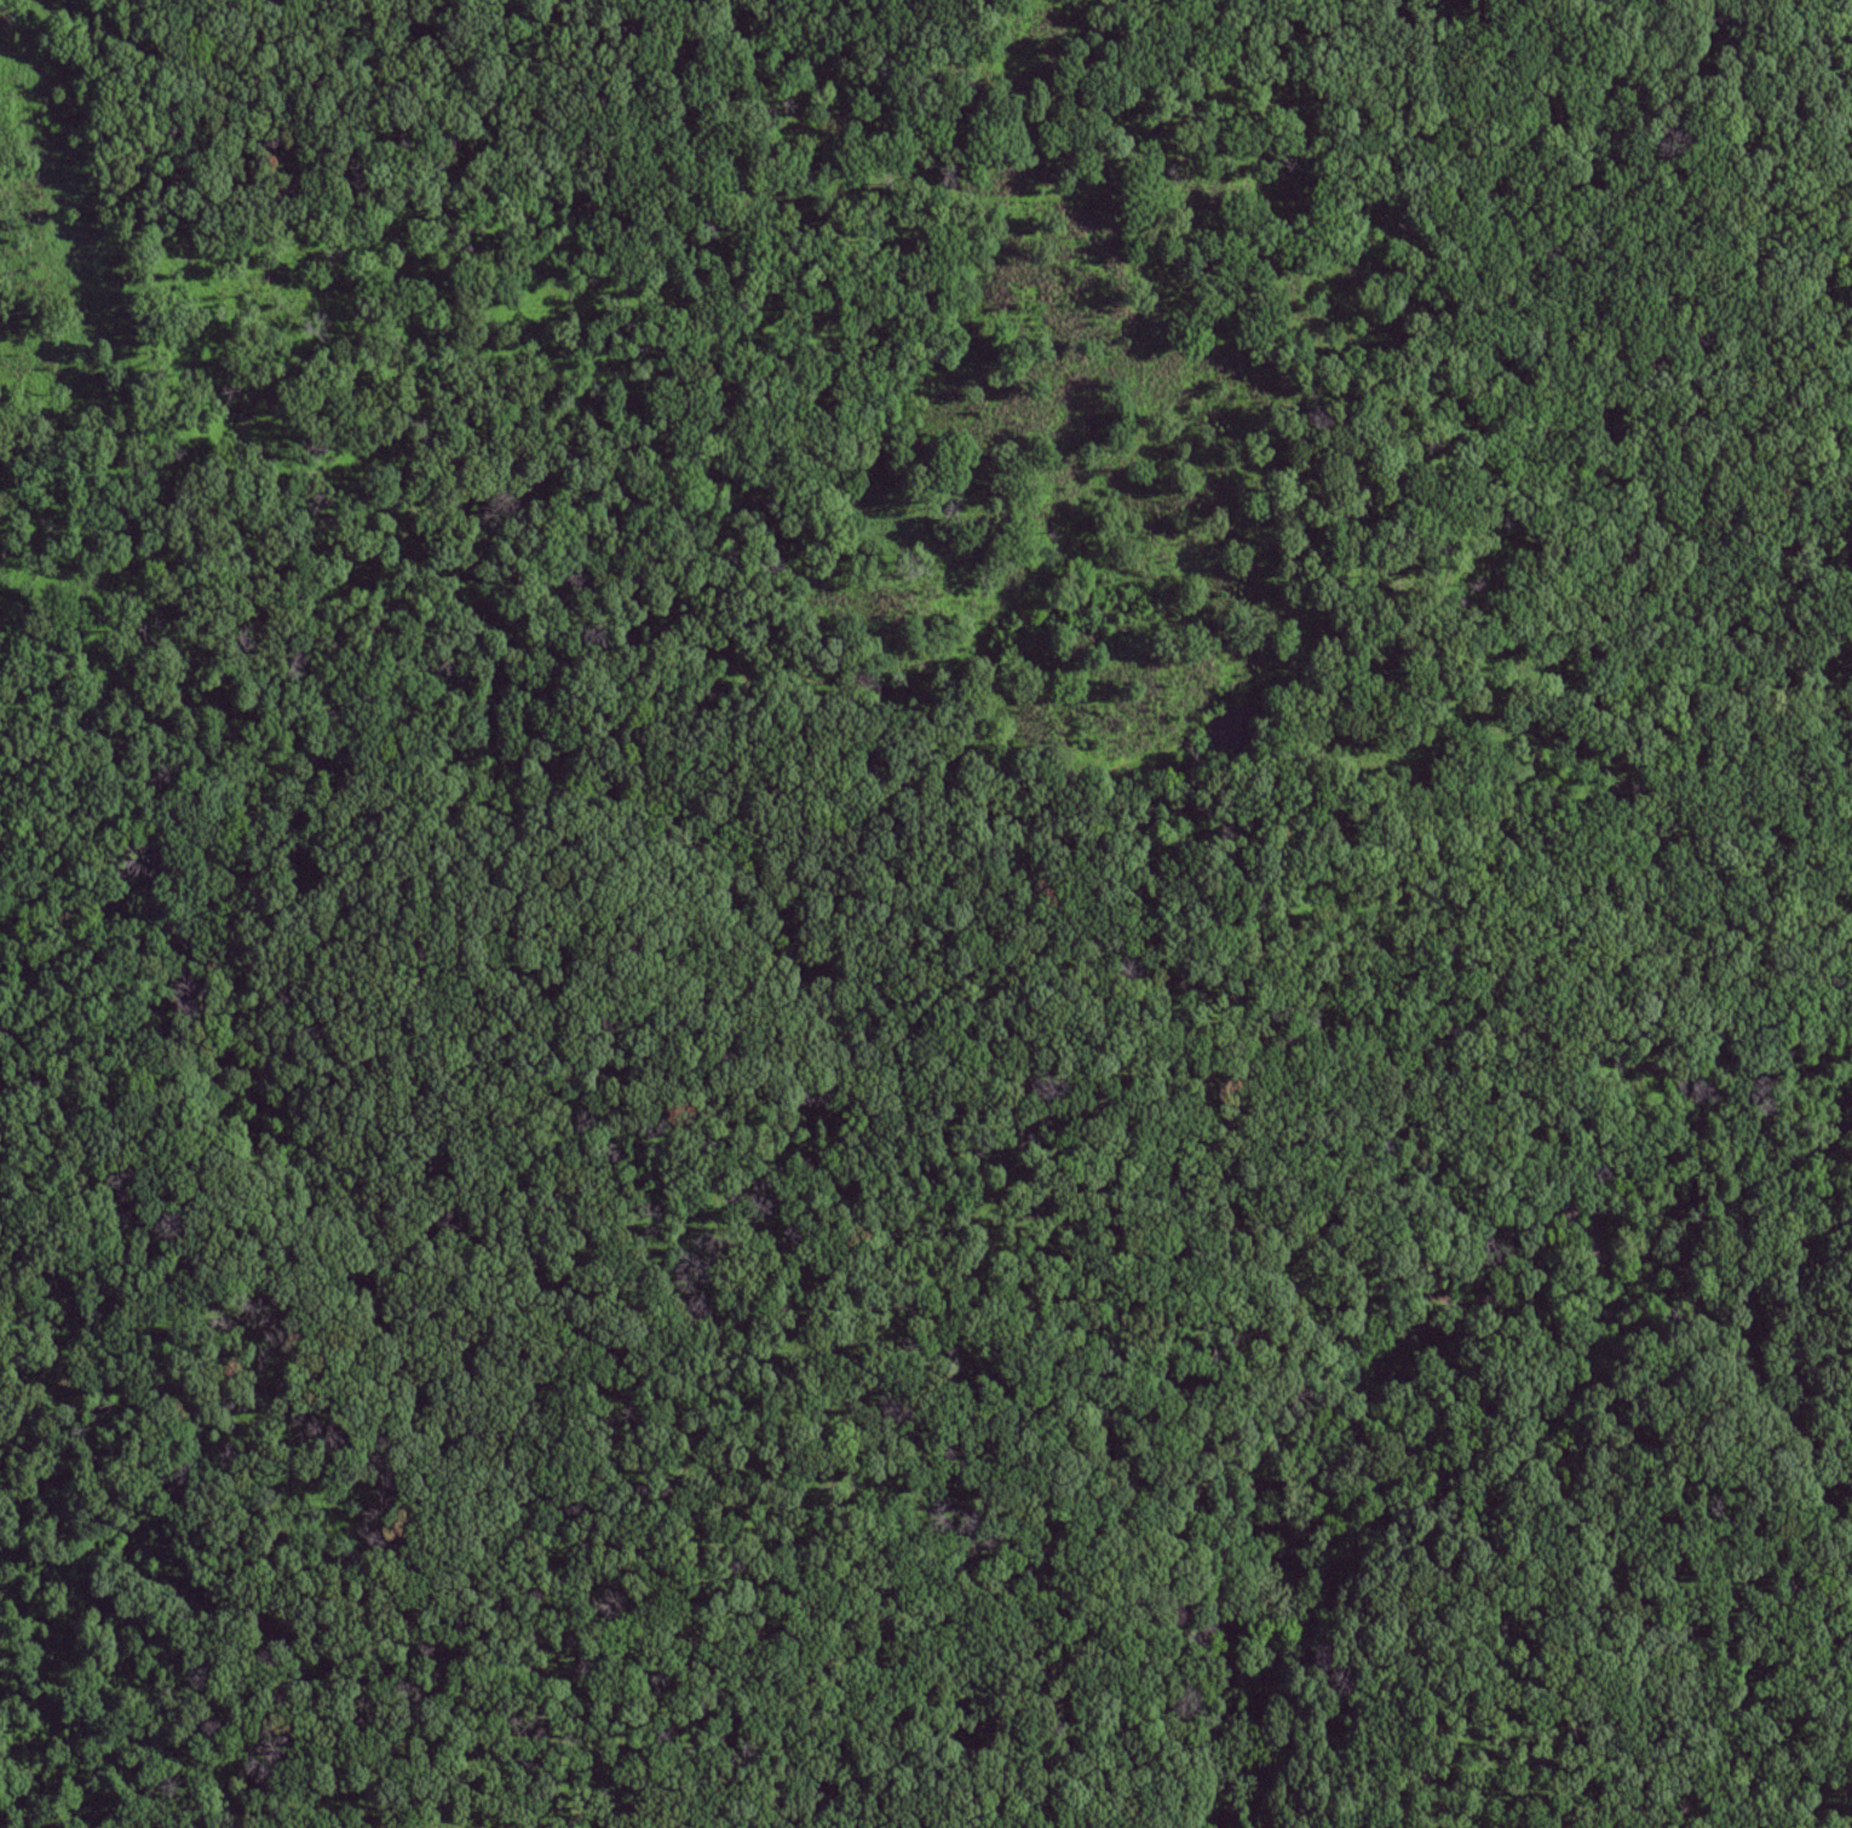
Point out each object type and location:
road: (817, 778)
road: (1047, 780)

